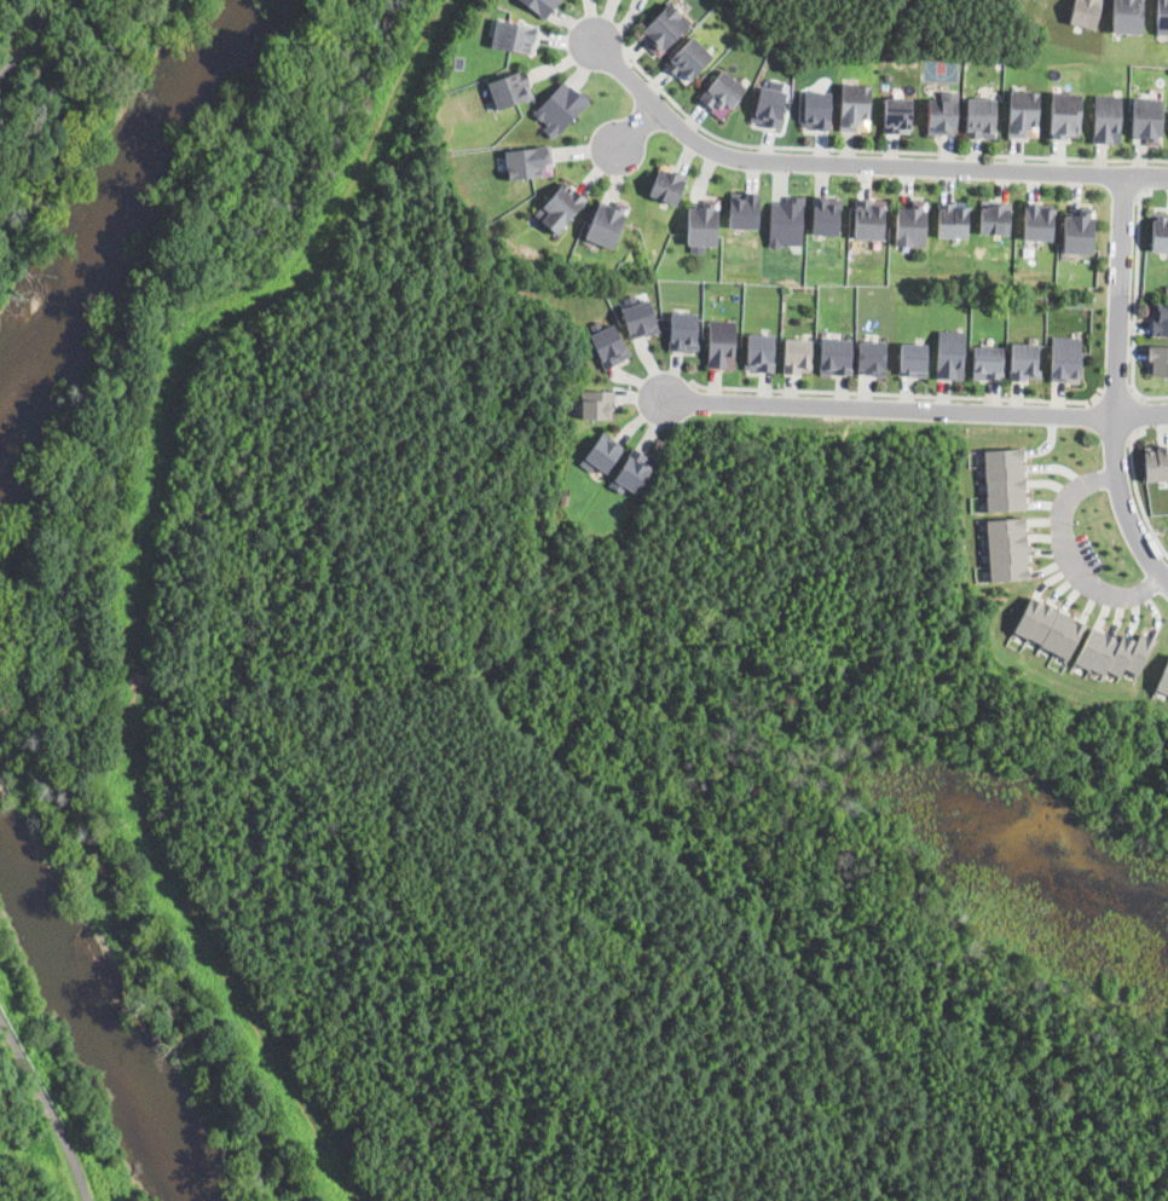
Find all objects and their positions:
building: (542, 5)
building: (1086, 12)
building: (1127, 16)
building: (1163, 17)
park: (896, 27)
building: (665, 28)
building: (515, 35)
road: (30, 36)
building: (689, 59)
building: (510, 90)
building: (722, 93)
park: (65, 103)
building: (769, 104)
building: (854, 106)
building: (560, 109)
building: (815, 109)
building: (943, 114)
building: (1023, 114)
building: (897, 115)
building: (1065, 115)
building: (981, 116)
building: (1108, 119)
building: (1147, 119)
road: (636, 126)
road: (880, 151)
building: (530, 162)
road: (857, 164)
road: (1144, 177)
building: (669, 183)
building: (561, 207)
building: (745, 209)
building: (826, 214)
building: (995, 216)
building: (869, 218)
building: (954, 219)
building: (1039, 221)
building: (607, 223)
building: (704, 223)
building: (786, 223)
river: (104, 224)
building: (912, 224)
building: (1160, 230)
building: (1080, 231)
road: (1135, 304)
building: (640, 317)
building: (1160, 319)
building: (683, 331)
building: (608, 343)
building: (721, 343)
building: (759, 352)
building: (797, 354)
building: (950, 354)
building: (835, 356)
building: (872, 357)
building: (913, 358)
building: (1066, 359)
building: (1157, 359)
building: (987, 362)
building: (1024, 362)
road: (1117, 383)
road: (898, 395)
road: (1117, 395)
building: (597, 403)
road: (913, 409)
road: (1139, 414)
building: (602, 452)
building: (1005, 452)
building: (1156, 462)
building: (1005, 468)
building: (634, 470)
building: (1006, 484)
road: (1138, 492)
building: (565, 498)
building: (1007, 500)
building: (1007, 524)
building: (1008, 539)
building: (1010, 554)
road: (1069, 555)
building: (1011, 570)
building: (1030, 614)
building: (1045, 622)
building: (1058, 629)
building: (1071, 636)
building: (1093, 646)
building: (1108, 651)
building: (1123, 653)
building: (1140, 653)
building: (1163, 677)
park: (544, 738)
river: (105, 1027)
park: (45, 1104)
road: (48, 1107)

